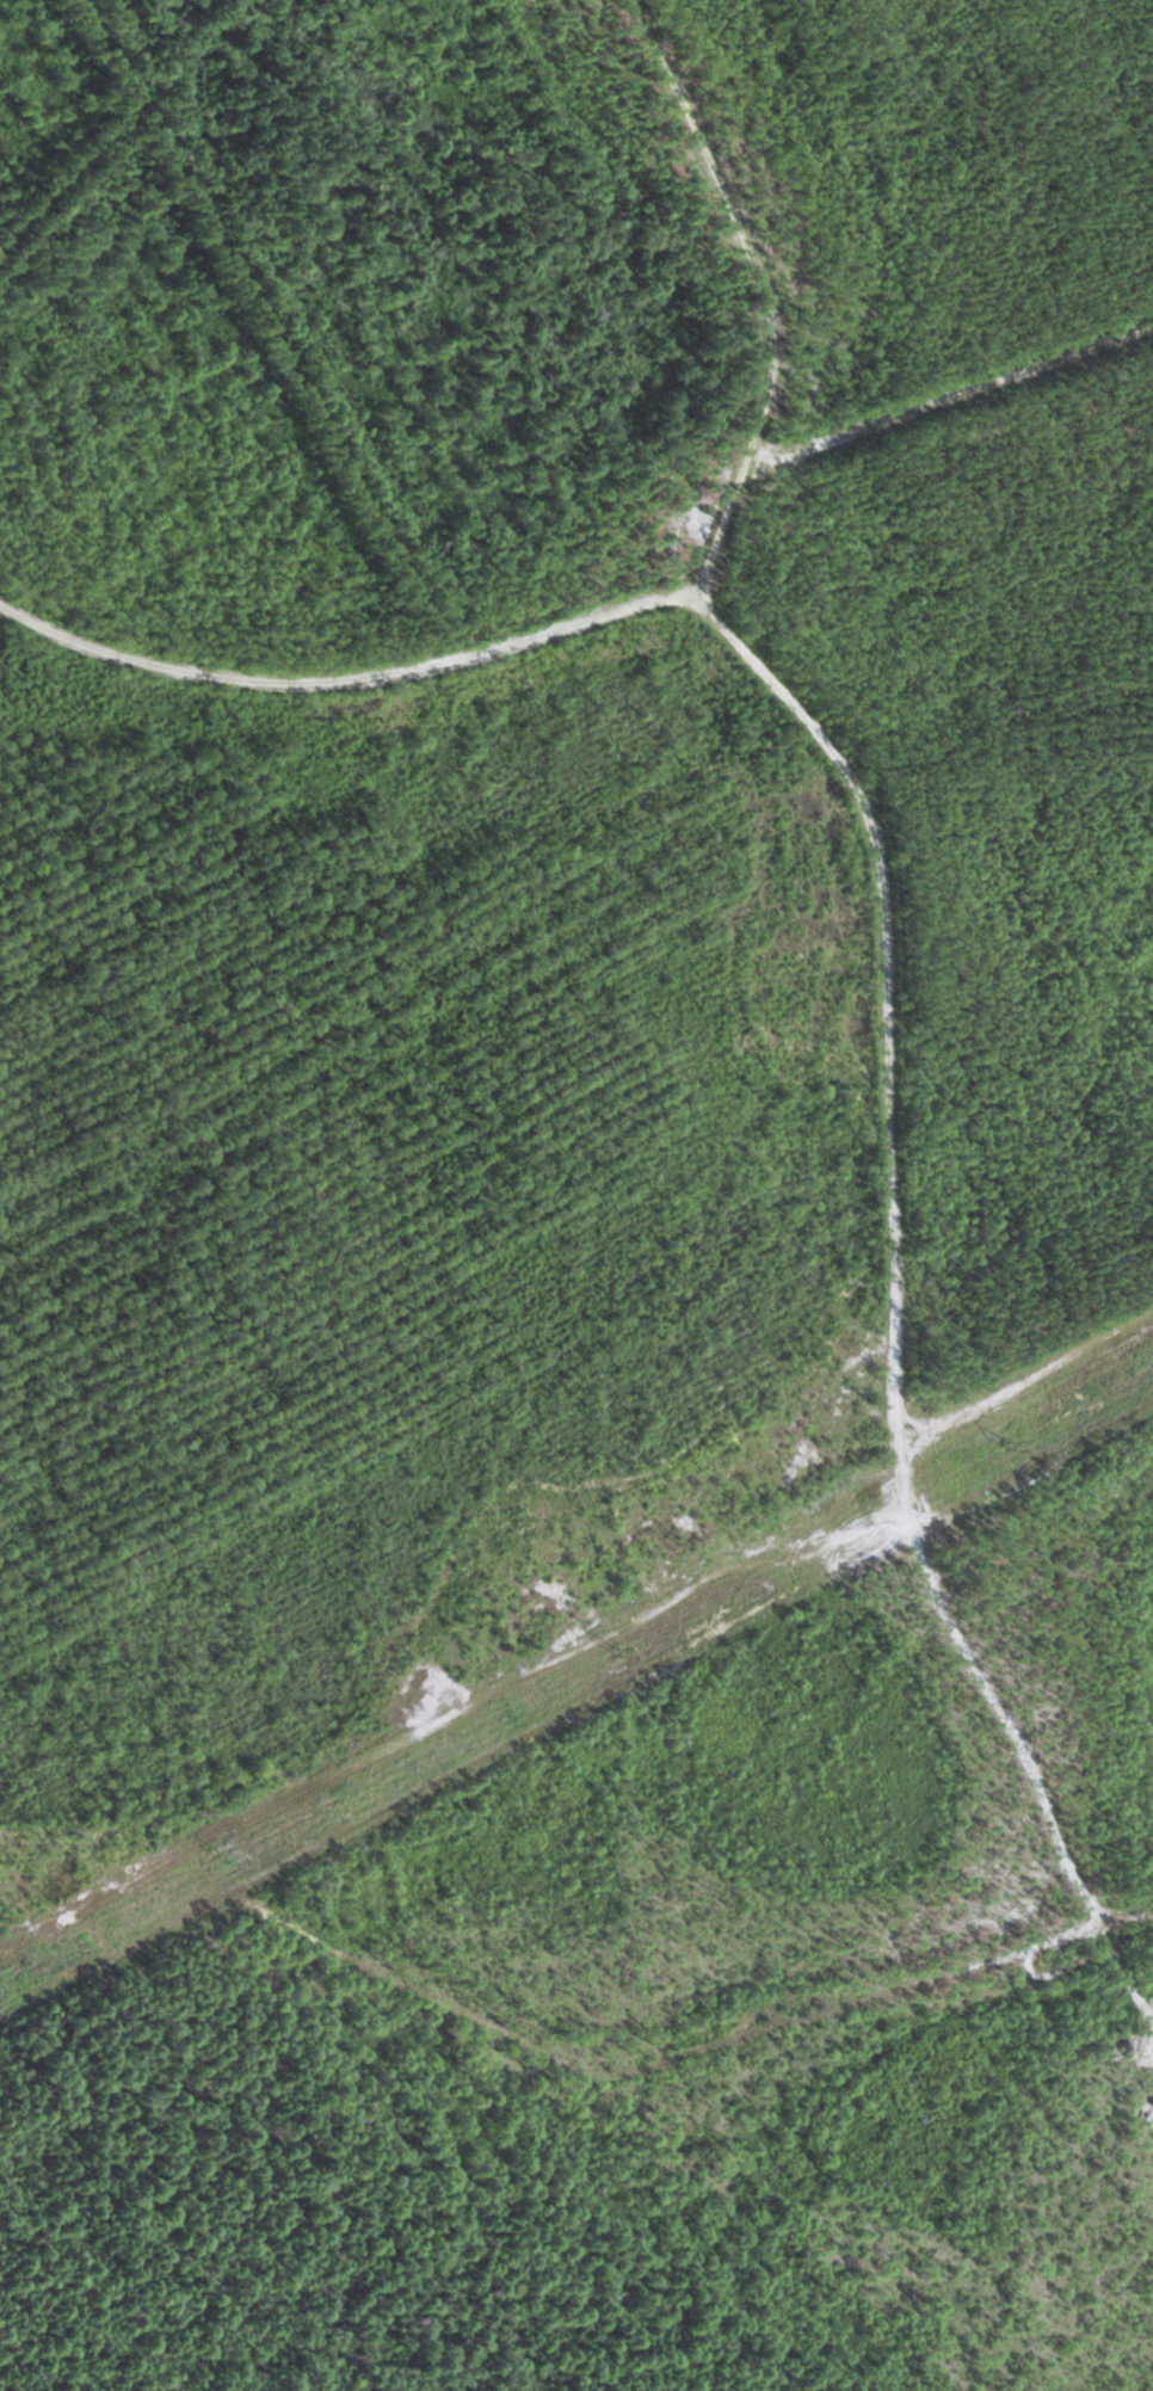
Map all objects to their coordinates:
road: (340, 639)
road: (890, 976)
power tower: (1003, 1442)
power tower: (618, 1650)
power tower: (227, 1851)

